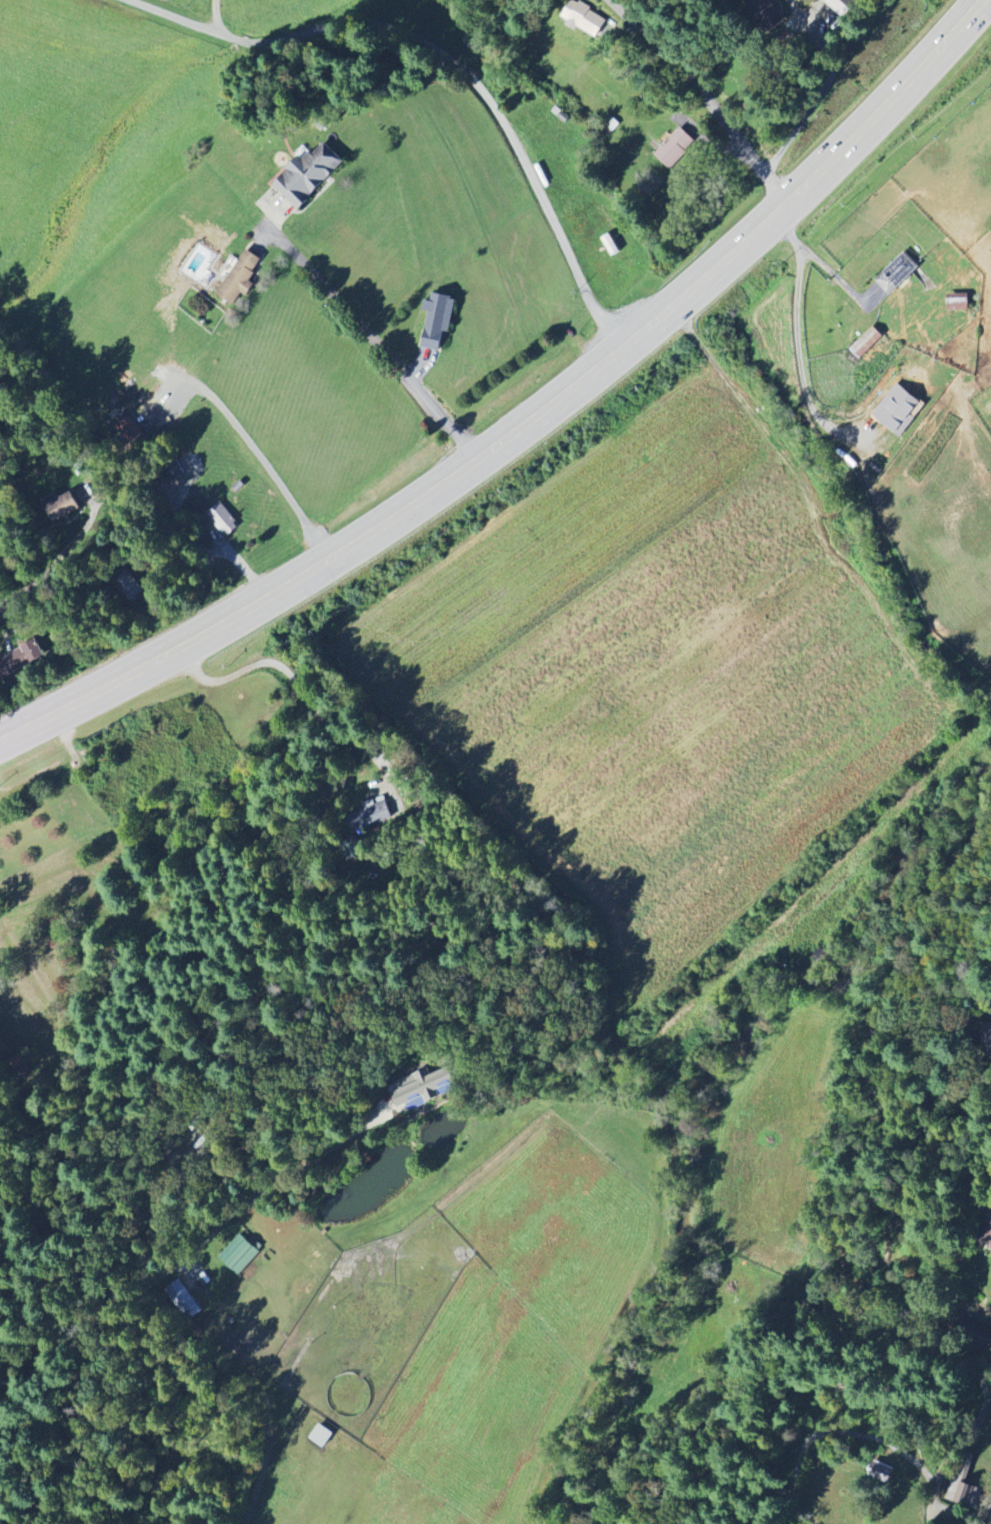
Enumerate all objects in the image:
road: (986, 3)
building: (842, 6)
road: (218, 16)
building: (584, 19)
road: (449, 61)
road: (826, 89)
road: (701, 95)
building: (675, 149)
building: (307, 176)
road: (822, 263)
building: (897, 274)
building: (240, 279)
building: (958, 303)
building: (437, 321)
road: (373, 337)
building: (867, 343)
building: (898, 411)
road: (525, 420)
building: (62, 506)
building: (221, 519)
road: (41, 584)
building: (129, 586)
building: (20, 659)
road: (300, 687)
building: (369, 818)
building: (987, 1035)
building: (422, 1089)
road: (199, 1241)
building: (238, 1256)
building: (184, 1301)
building: (881, 1472)
building: (963, 1493)

